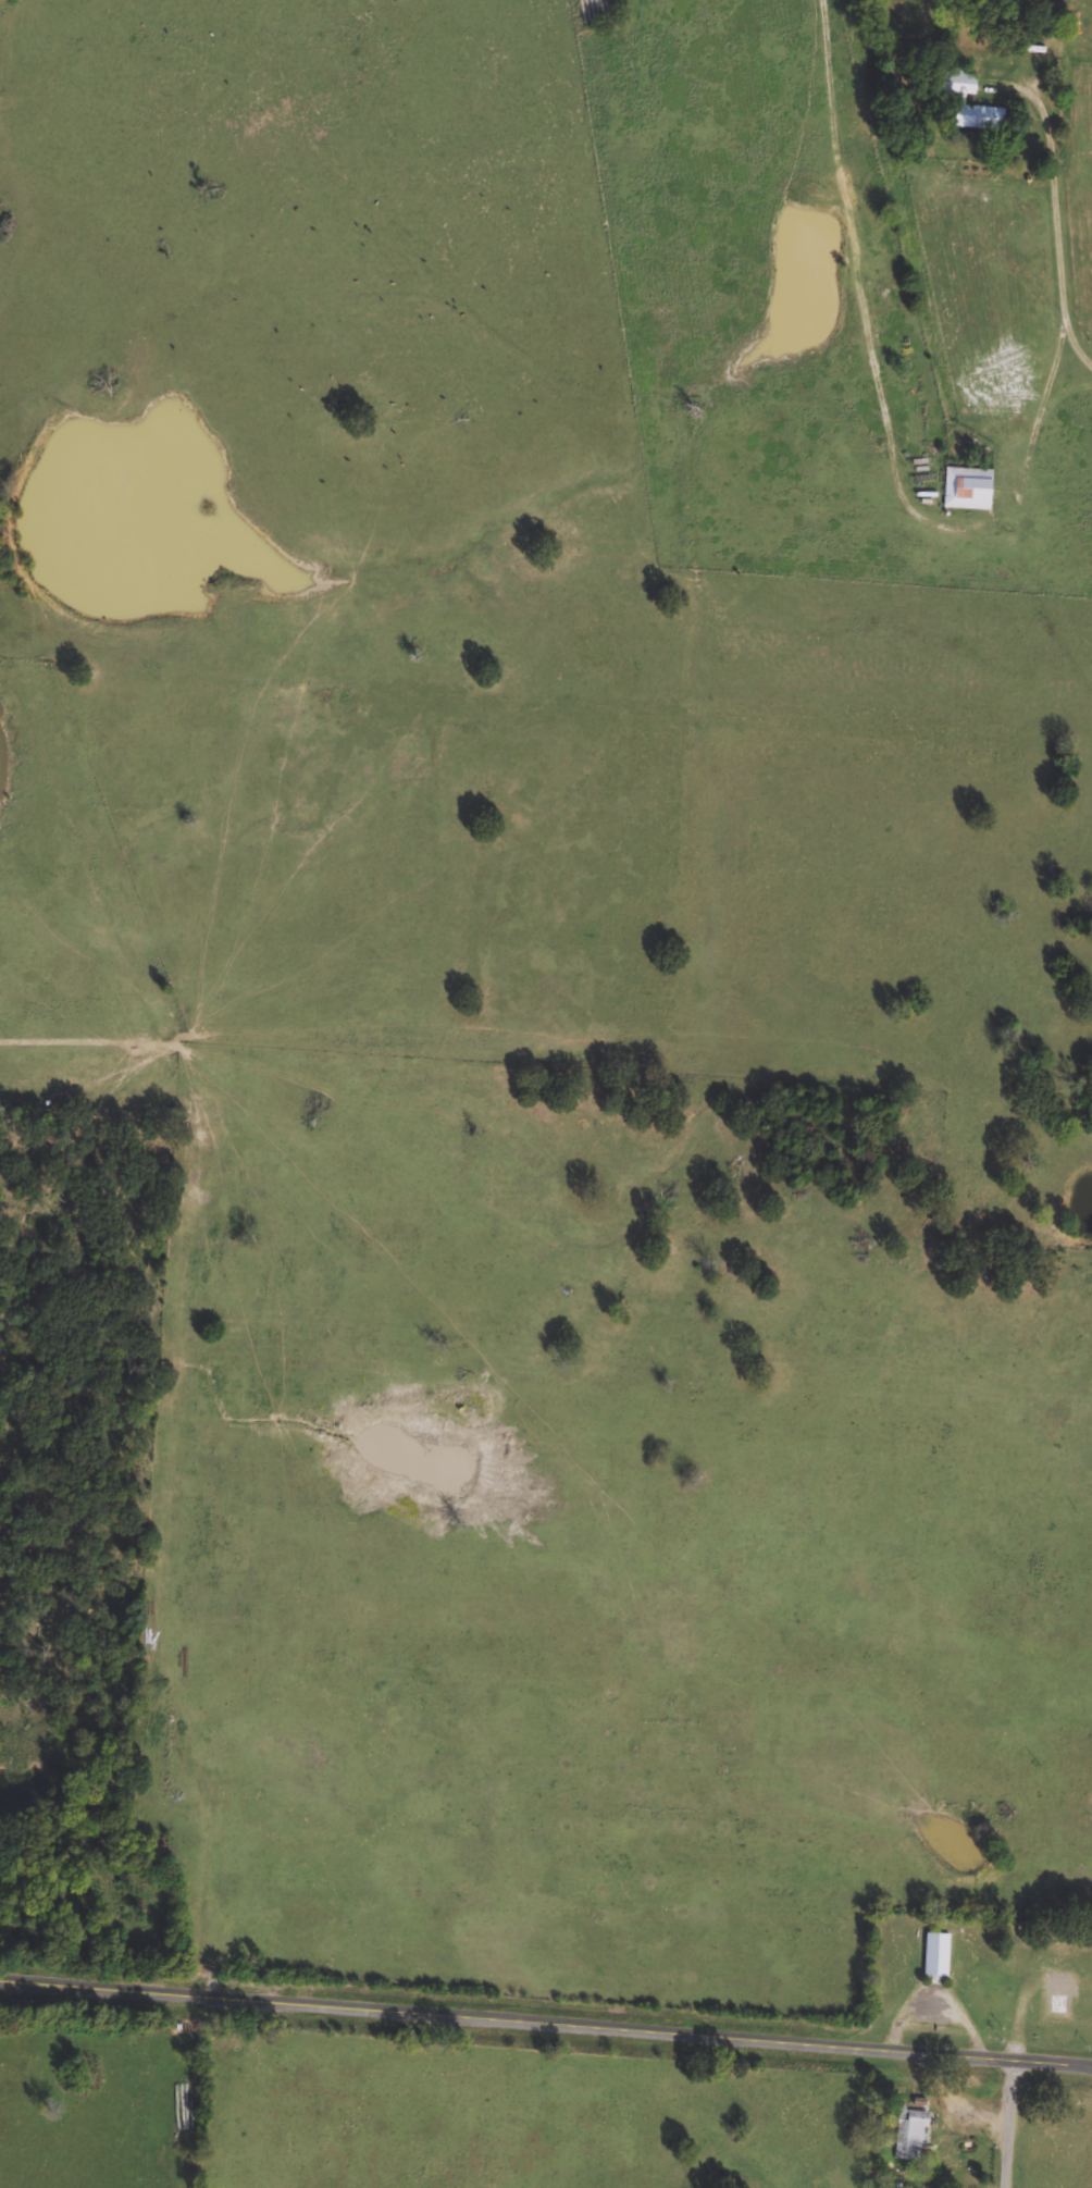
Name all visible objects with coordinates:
building: (975, 107)
road: (1063, 231)
road: (1066, 395)
road: (1037, 431)
building: (970, 490)
building: (939, 1955)
road: (545, 2024)
road: (1014, 2125)
building: (913, 2135)

